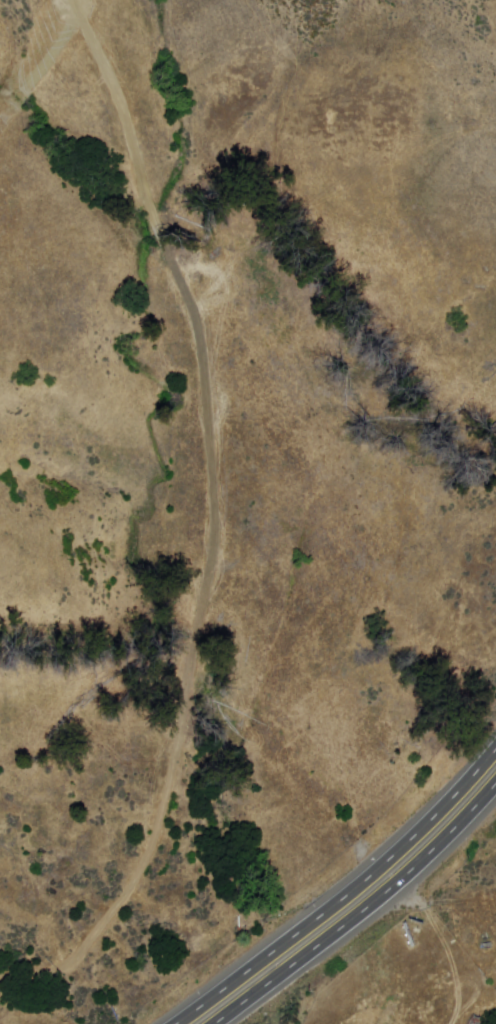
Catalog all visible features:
road: (212, 520)
road: (347, 898)
road: (363, 913)
building: (474, 1021)

